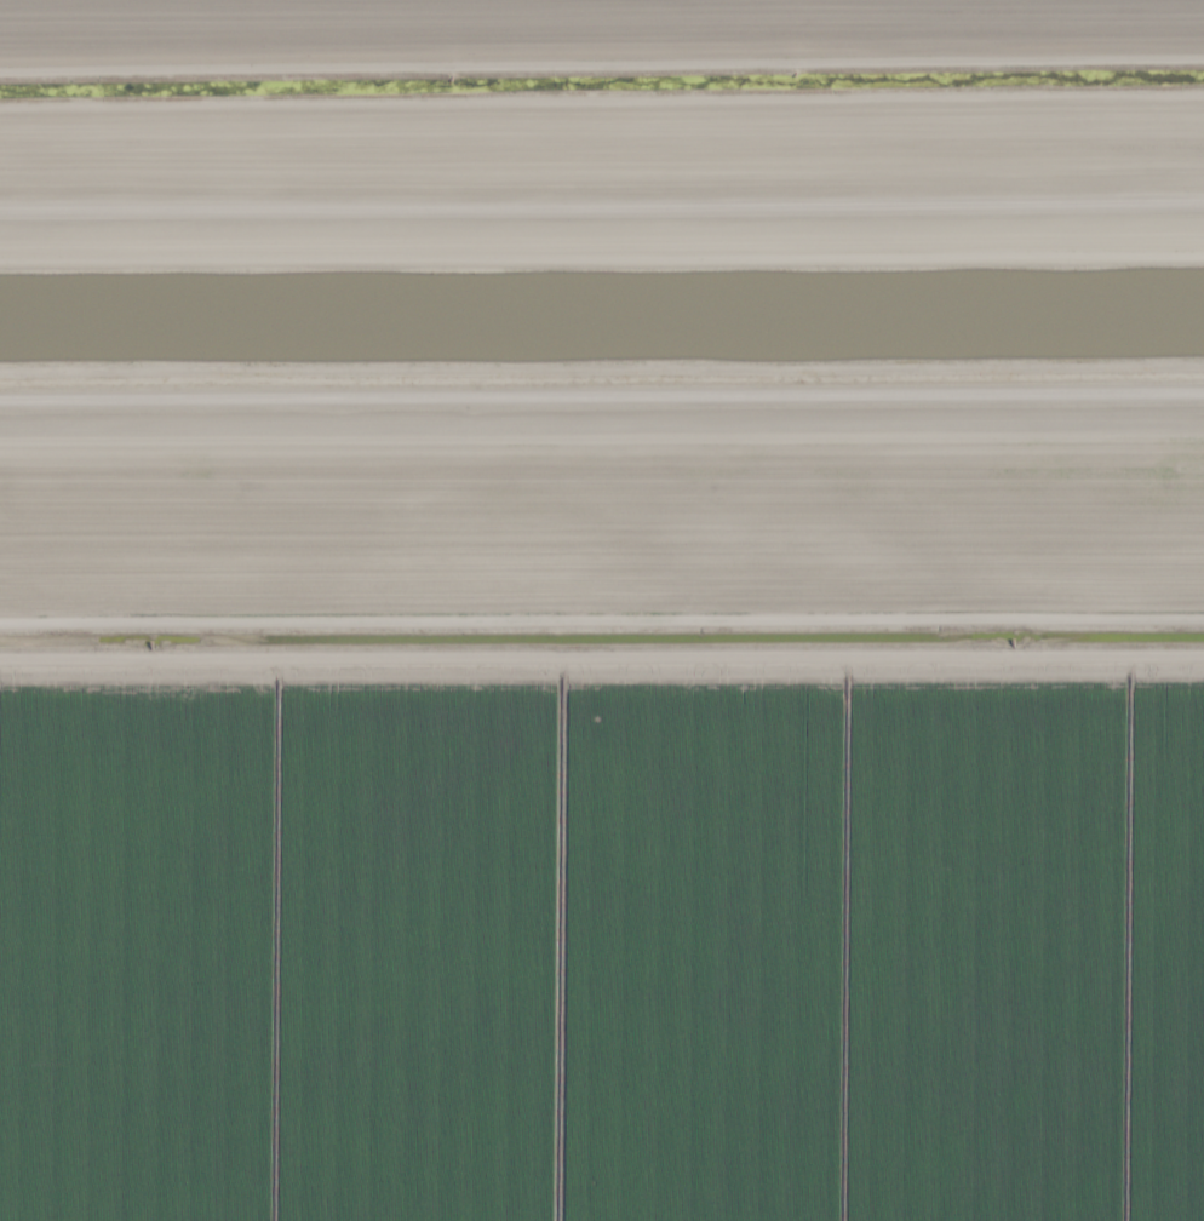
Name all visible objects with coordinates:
crop: (590, 35)
road: (602, 207)
river: (602, 325)
road: (602, 379)

